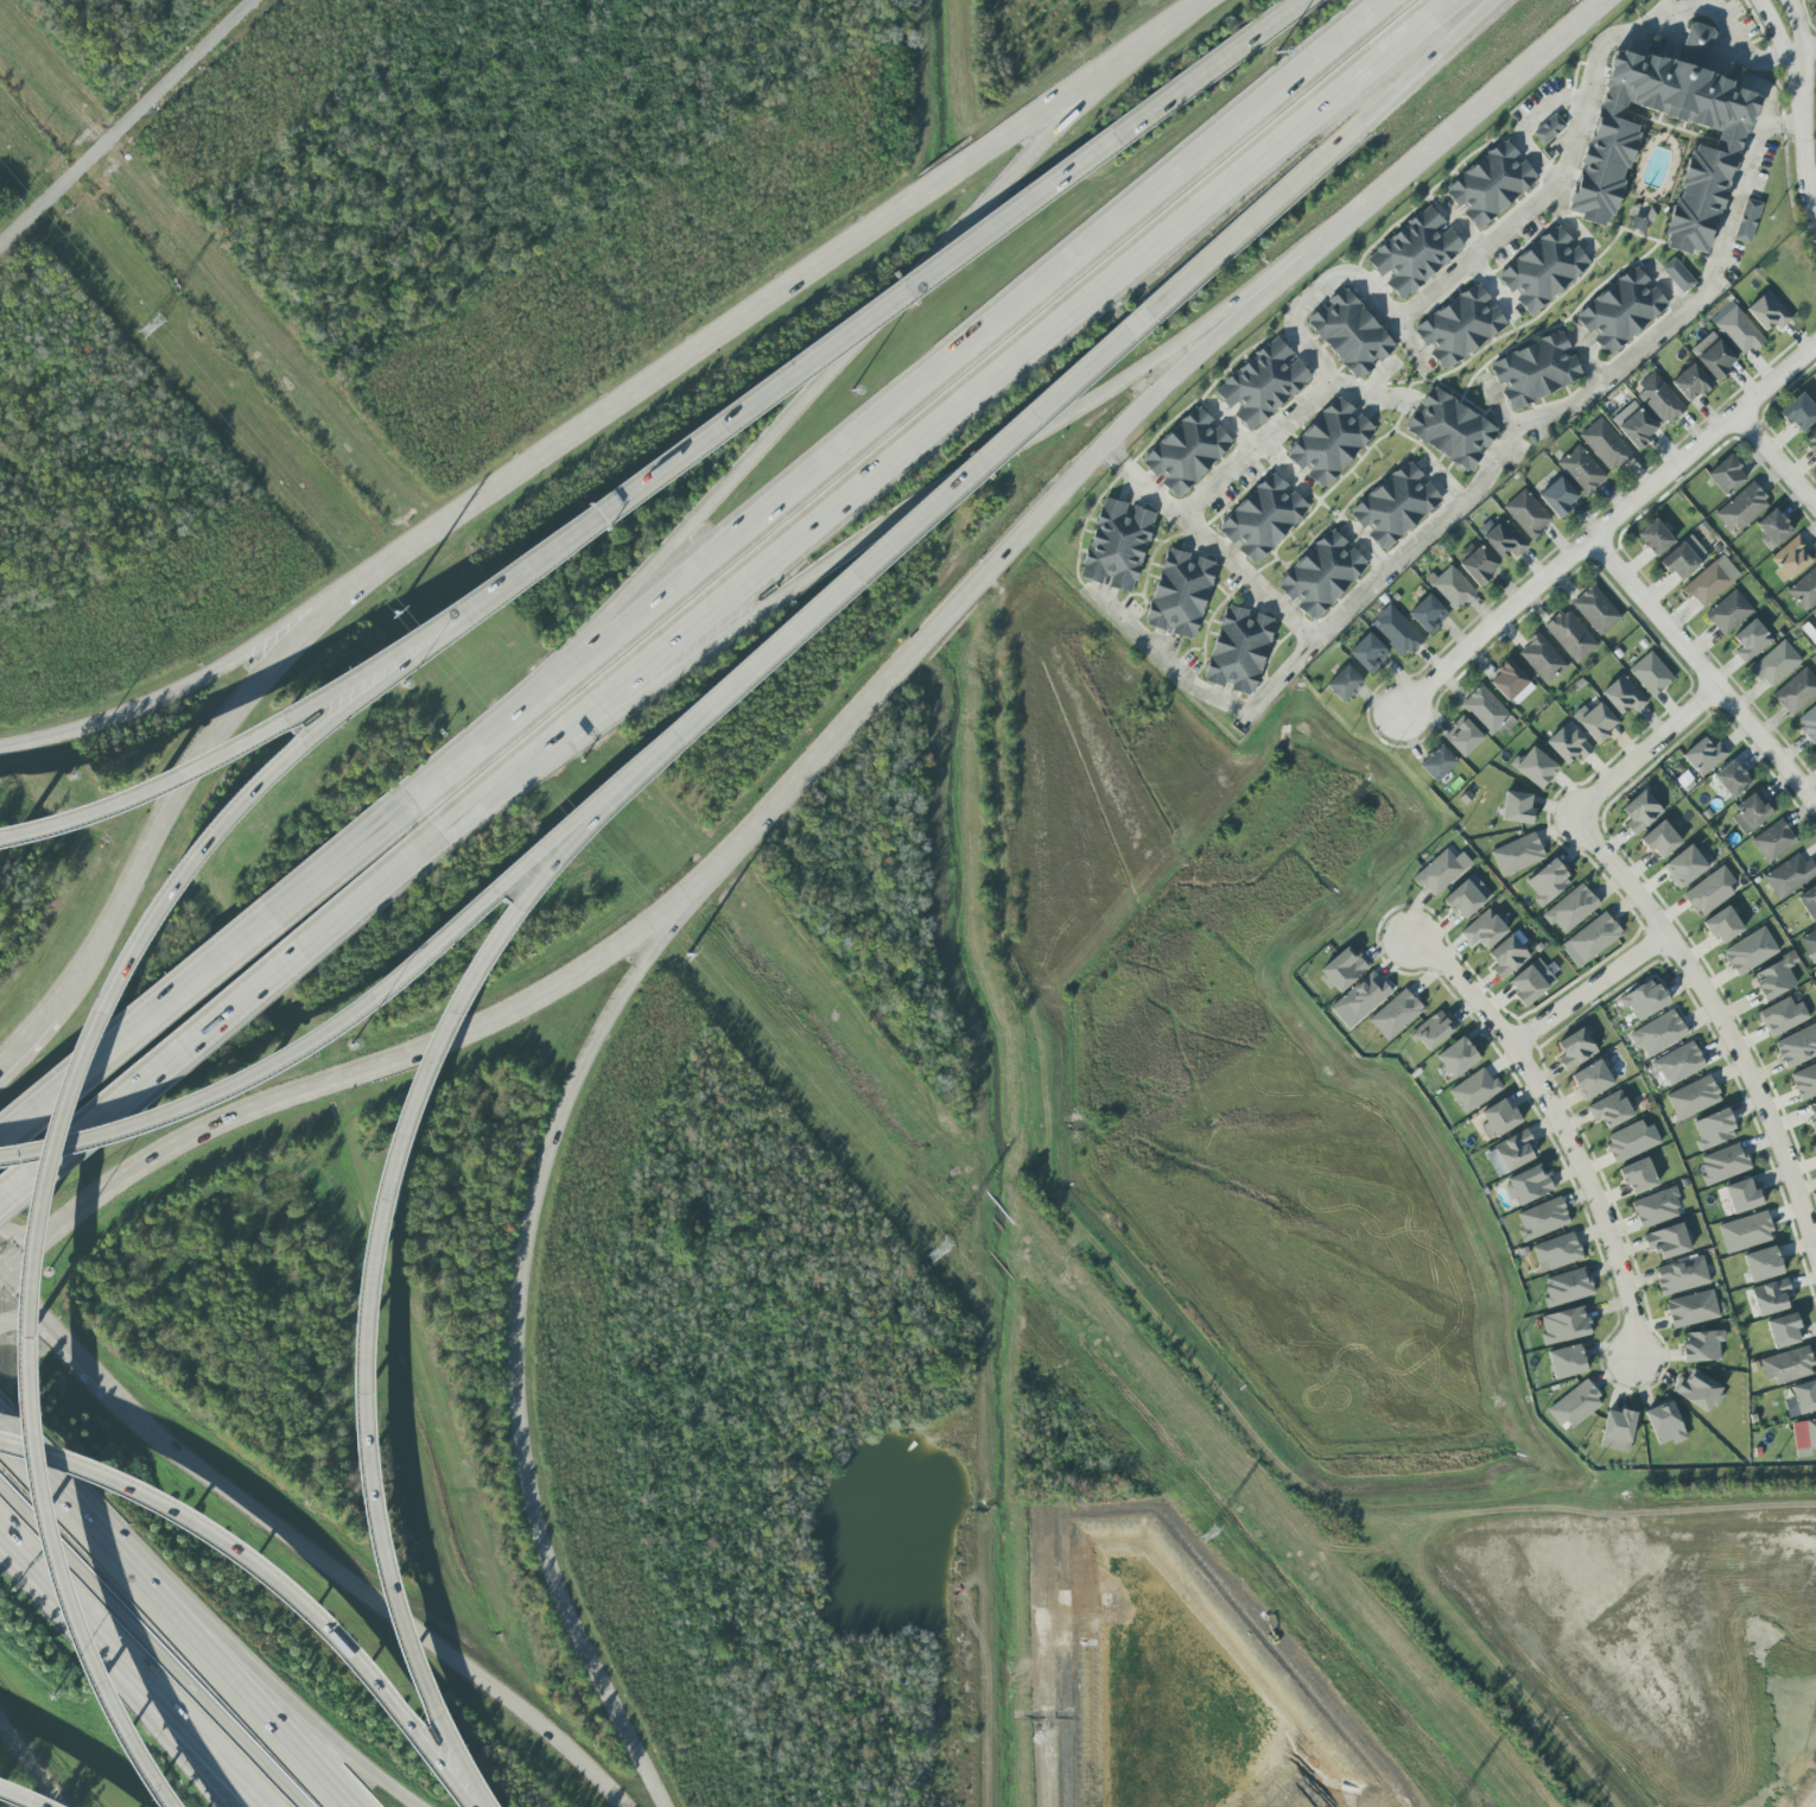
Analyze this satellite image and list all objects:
road: (1726, 26)
building: (1697, 42)
road: (1143, 43)
road: (1809, 50)
road: (1784, 51)
road: (1802, 52)
road: (1209, 69)
road: (1492, 106)
road: (127, 122)
road: (1528, 123)
road: (1792, 123)
building: (1548, 129)
road: (1323, 157)
road: (1805, 163)
road: (1811, 178)
building: (1704, 180)
building: (1491, 184)
building: (1747, 221)
building: (1415, 253)
building: (1543, 270)
building: (1677, 275)
road: (1363, 285)
building: (1621, 310)
building: (1767, 311)
power tower: (148, 326)
building: (1460, 326)
building: (1736, 329)
road: (724, 334)
building: (1350, 334)
building: (1712, 355)
building: (1536, 370)
road: (781, 379)
building: (1690, 382)
building: (1262, 383)
building: (1658, 399)
road: (966, 410)
road: (906, 411)
building: (1798, 412)
building: (1634, 424)
building: (1449, 429)
road: (1119, 430)
building: (1811, 442)
building: (1329, 443)
building: (1605, 444)
road: (1505, 445)
road: (769, 451)
building: (1187, 451)
road: (1112, 454)
road: (1776, 459)
building: (1581, 469)
building: (1726, 476)
building: (1557, 496)
building: (1395, 506)
building: (1741, 507)
building: (1525, 514)
road: (922, 516)
building: (1263, 518)
road: (1606, 526)
building: (1772, 528)
building: (1501, 538)
building: (1655, 538)
building: (1117, 546)
building: (1683, 558)
building: (1790, 558)
road: (882, 560)
building: (1475, 563)
building: (1321, 575)
building: (1710, 581)
building: (1452, 588)
building: (1804, 590)
building: (1180, 594)
building: (1595, 609)
building: (1728, 611)
power tower: (390, 614)
building: (1428, 614)
building: (1396, 630)
building: (1570, 635)
road: (279, 636)
building: (1750, 641)
building: (1239, 649)
building: (1367, 653)
building: (1541, 658)
building: (1776, 664)
road: (1703, 672)
building: (1650, 673)
building: (1344, 683)
building: (1511, 683)
road: (1207, 691)
building: (1796, 691)
building: (1621, 695)
building: (1487, 711)
building: (1594, 721)
building: (1808, 723)
road: (97, 724)
building: (1461, 735)
road: (230, 743)
building: (1567, 743)
building: (1815, 747)
building: (1815, 749)
road: (1645, 752)
building: (1703, 755)
building: (1436, 763)
building: (1534, 767)
building: (1732, 779)
road: (188, 782)
building: (1516, 807)
building: (1639, 812)
building: (1748, 813)
road: (457, 835)
building: (1661, 839)
building: (1773, 841)
building: (1517, 854)
building: (1684, 867)
building: (1441, 871)
building: (1789, 875)
building: (1548, 882)
building: (1708, 892)
building: (1466, 896)
building: (1809, 902)
building: (1570, 908)
building: (1722, 925)
building: (1482, 930)
building: (1590, 939)
building: (1809, 941)
building: (1750, 951)
power tower: (687, 956)
building: (1506, 956)
building: (1342, 969)
building: (1773, 978)
road: (207, 982)
building: (1530, 982)
road: (1589, 989)
building: (1363, 997)
building: (1643, 1000)
building: (1395, 1014)
building: (1782, 1015)
road: (1721, 1021)
road: (329, 1025)
road: (482, 1025)
road: (220, 1031)
building: (1433, 1031)
building: (1658, 1033)
road: (26, 1041)
building: (1797, 1046)
building: (1575, 1048)
building: (1456, 1057)
building: (1677, 1064)
building: (1590, 1079)
building: (1804, 1082)
building: (1473, 1090)
building: (1693, 1097)
road: (566, 1107)
building: (1609, 1109)
building: (1811, 1116)
building: (1498, 1118)
road: (1561, 1128)
building: (1713, 1129)
building: (1630, 1140)
road: (33, 1150)
building: (1509, 1154)
building: (1722, 1164)
building: (1638, 1175)
building: (1526, 1185)
building: (1741, 1194)
building: (1656, 1207)
building: (1542, 1218)
building: (1745, 1231)
road: (18, 1241)
building: (1666, 1241)
power tower: (936, 1250)
building: (1556, 1251)
building: (1761, 1263)
building: (1681, 1275)
road: (2, 1276)
road: (357, 1277)
traffic signals: (6, 1280)
road: (2, 1282)
building: (1567, 1287)
building: (1770, 1296)
building: (1691, 1308)
road: (38, 1313)
building: (1563, 1325)
building: (1783, 1330)
road: (36, 1332)
building: (1701, 1345)
building: (1566, 1361)
building: (1786, 1365)
road: (91, 1369)
building: (1697, 1390)
building: (1802, 1399)
building: (1575, 1405)
building: (1664, 1424)
building: (1617, 1429)
building: (1804, 1437)
power tower: (1208, 1534)
road: (268, 1579)
road: (555, 1585)
road: (38, 1587)
road: (374, 1594)
road: (169, 1621)
road: (148, 1647)
road: (254, 1669)
road: (146, 1716)
road: (160, 1717)
road: (32, 1762)
road: (15, 1798)

